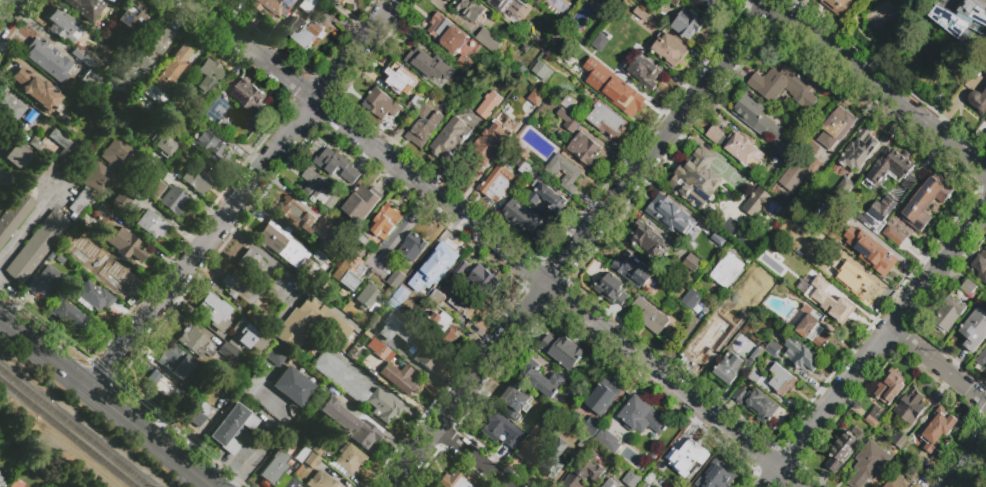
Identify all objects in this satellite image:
building: (119, 0)
building: (329, 0)
building: (640, 0)
building: (339, 1)
building: (537, 2)
building: (674, 2)
building: (848, 3)
building: (305, 4)
building: (497, 4)
building: (703, 5)
building: (84, 8)
building: (269, 8)
building: (512, 8)
building: (468, 9)
building: (607, 9)
road: (9, 11)
building: (640, 14)
building: (882, 15)
building: (130, 18)
building: (960, 19)
building: (62, 24)
building: (686, 25)
building: (303, 29)
building: (447, 34)
building: (618, 39)
building: (487, 40)
building: (598, 41)
building: (123, 48)
road: (252, 50)
road: (356, 50)
building: (668, 50)
building: (145, 51)
building: (509, 57)
building: (47, 59)
building: (425, 59)
building: (596, 63)
building: (464, 64)
building: (169, 68)
building: (87, 69)
building: (501, 70)
building: (542, 71)
building: (984, 71)
building: (642, 73)
building: (207, 74)
building: (400, 79)
building: (22, 81)
building: (786, 85)
building: (436, 86)
road: (876, 87)
building: (536, 97)
building: (249, 98)
building: (623, 98)
building: (976, 100)
building: (568, 104)
building: (9, 105)
building: (380, 105)
building: (489, 105)
building: (200, 106)
building: (46, 110)
building: (156, 113)
building: (187, 113)
building: (29, 116)
building: (209, 116)
building: (757, 118)
building: (605, 120)
building: (568, 121)
building: (133, 122)
building: (78, 124)
building: (236, 124)
road: (10, 125)
building: (836, 127)
building: (423, 130)
building: (714, 135)
building: (4, 137)
building: (450, 139)
building: (35, 143)
building: (61, 143)
building: (165, 143)
building: (209, 145)
building: (584, 149)
building: (858, 150)
building: (116, 152)
building: (745, 152)
building: (782, 152)
building: (17, 153)
building: (146, 153)
building: (481, 153)
building: (813, 153)
building: (337, 165)
building: (890, 168)
building: (40, 173)
building: (564, 173)
building: (529, 174)
building: (793, 176)
building: (197, 178)
building: (698, 180)
building: (7, 181)
building: (496, 184)
building: (92, 185)
building: (155, 188)
building: (320, 190)
building: (547, 198)
building: (172, 199)
road: (197, 199)
building: (122, 200)
building: (362, 202)
building: (760, 203)
building: (917, 211)
building: (14, 212)
building: (878, 212)
building: (103, 214)
building: (296, 215)
building: (670, 215)
building: (522, 216)
building: (788, 217)
road: (31, 220)
building: (385, 222)
road: (404, 222)
building: (150, 224)
road: (173, 224)
building: (325, 224)
building: (701, 229)
building: (648, 240)
building: (121, 242)
road: (203, 243)
building: (283, 243)
building: (365, 243)
building: (37, 245)
road: (581, 245)
building: (410, 249)
road: (260, 252)
building: (91, 255)
building: (317, 256)
building: (878, 257)
building: (60, 259)
building: (438, 263)
building: (692, 263)
building: (980, 266)
building: (253, 267)
building: (632, 270)
building: (726, 270)
building: (351, 273)
building: (460, 275)
building: (849, 277)
building: (395, 280)
building: (44, 282)
building: (118, 282)
building: (484, 283)
building: (278, 288)
building: (671, 288)
building: (968, 288)
building: (611, 289)
building: (240, 290)
building: (754, 293)
road: (560, 294)
building: (367, 295)
building: (434, 296)
building: (92, 297)
building: (691, 299)
building: (404, 301)
building: (831, 302)
building: (467, 304)
building: (725, 308)
building: (213, 313)
building: (948, 315)
building: (71, 316)
building: (650, 316)
building: (254, 318)
building: (310, 323)
road: (44, 325)
building: (808, 327)
building: (393, 328)
building: (975, 331)
building: (244, 336)
building: (433, 339)
building: (195, 342)
building: (758, 345)
building: (702, 346)
road: (876, 346)
building: (771, 348)
building: (563, 351)
building: (274, 352)
building: (756, 354)
building: (229, 355)
building: (800, 355)
building: (982, 359)
building: (174, 360)
road: (938, 366)
building: (392, 368)
building: (728, 370)
road: (101, 371)
building: (755, 375)
building: (541, 381)
building: (782, 381)
building: (292, 385)
building: (354, 386)
building: (220, 387)
building: (889, 387)
building: (155, 389)
road: (386, 391)
building: (226, 393)
building: (184, 395)
building: (580, 395)
building: (603, 396)
road: (107, 399)
building: (514, 403)
building: (755, 405)
building: (910, 405)
building: (197, 413)
building: (643, 417)
building: (871, 421)
building: (349, 423)
building: (527, 426)
building: (593, 426)
railway: (75, 427)
building: (231, 427)
building: (575, 428)
building: (498, 429)
building: (935, 430)
railway: (67, 433)
road: (181, 433)
building: (4, 438)
building: (607, 440)
building: (900, 440)
building: (584, 443)
building: (316, 445)
building: (531, 445)
building: (841, 451)
building: (299, 454)
road: (475, 456)
road: (249, 457)
building: (351, 458)
building: (553, 459)
building: (683, 459)
building: (312, 463)
road: (970, 463)
building: (869, 464)
building: (274, 467)
building: (292, 471)
building: (911, 472)
building: (583, 474)
building: (716, 475)
building: (298, 476)
building: (630, 479)
building: (320, 480)
building: (452, 480)
building: (2, 481)
building: (62, 483)
building: (611, 483)
building: (892, 483)
building: (292, 484)
building: (432, 486)
building: (667, 486)

